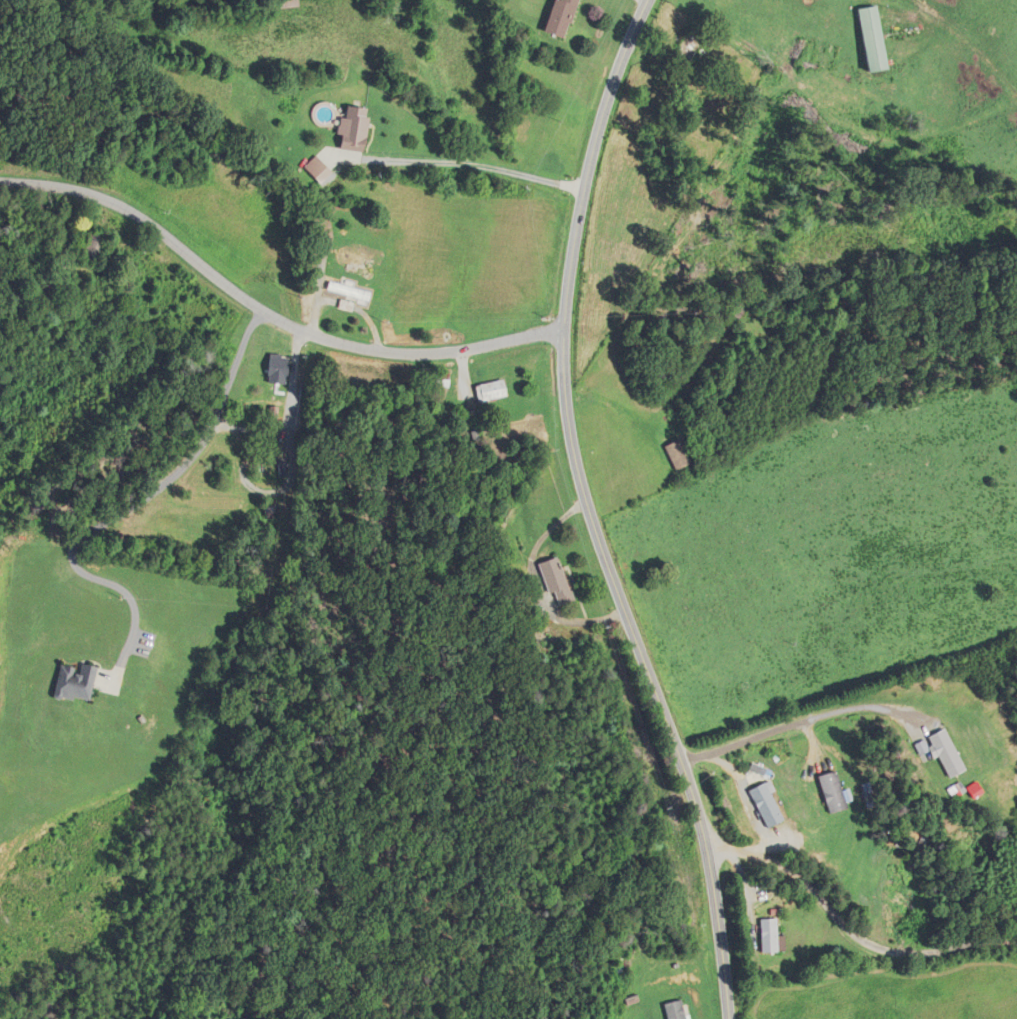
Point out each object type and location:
building: (560, 18)
building: (871, 39)
building: (686, 46)
building: (353, 129)
road: (588, 161)
road: (481, 166)
building: (94, 247)
building: (352, 258)
building: (347, 297)
building: (734, 314)
road: (267, 315)
building: (278, 370)
building: (488, 390)
building: (675, 454)
road: (123, 511)
building: (554, 580)
road: (646, 675)
building: (72, 683)
road: (791, 725)
building: (947, 750)
building: (830, 792)
building: (765, 805)
road: (850, 931)
building: (769, 936)
building: (674, 1010)

